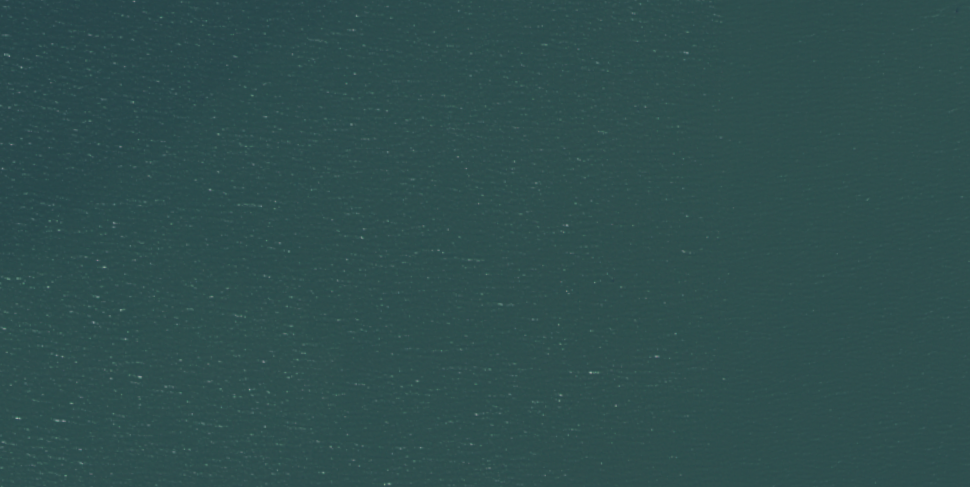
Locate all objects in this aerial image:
river: (745, 243)

